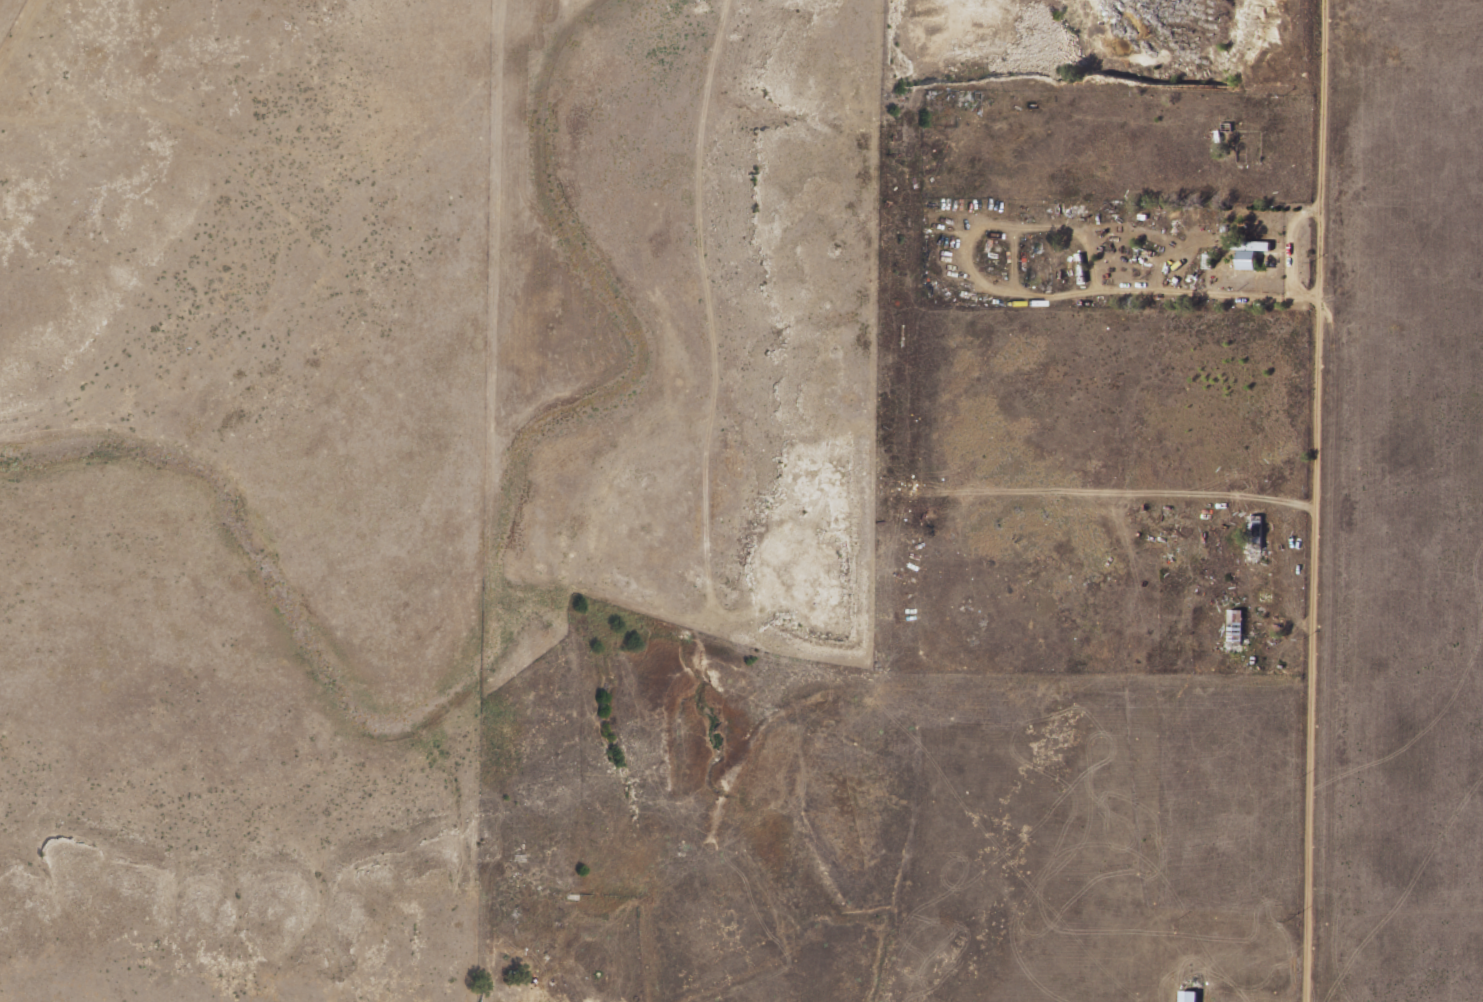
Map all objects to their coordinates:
building: (1253, 253)
road: (1338, 501)

